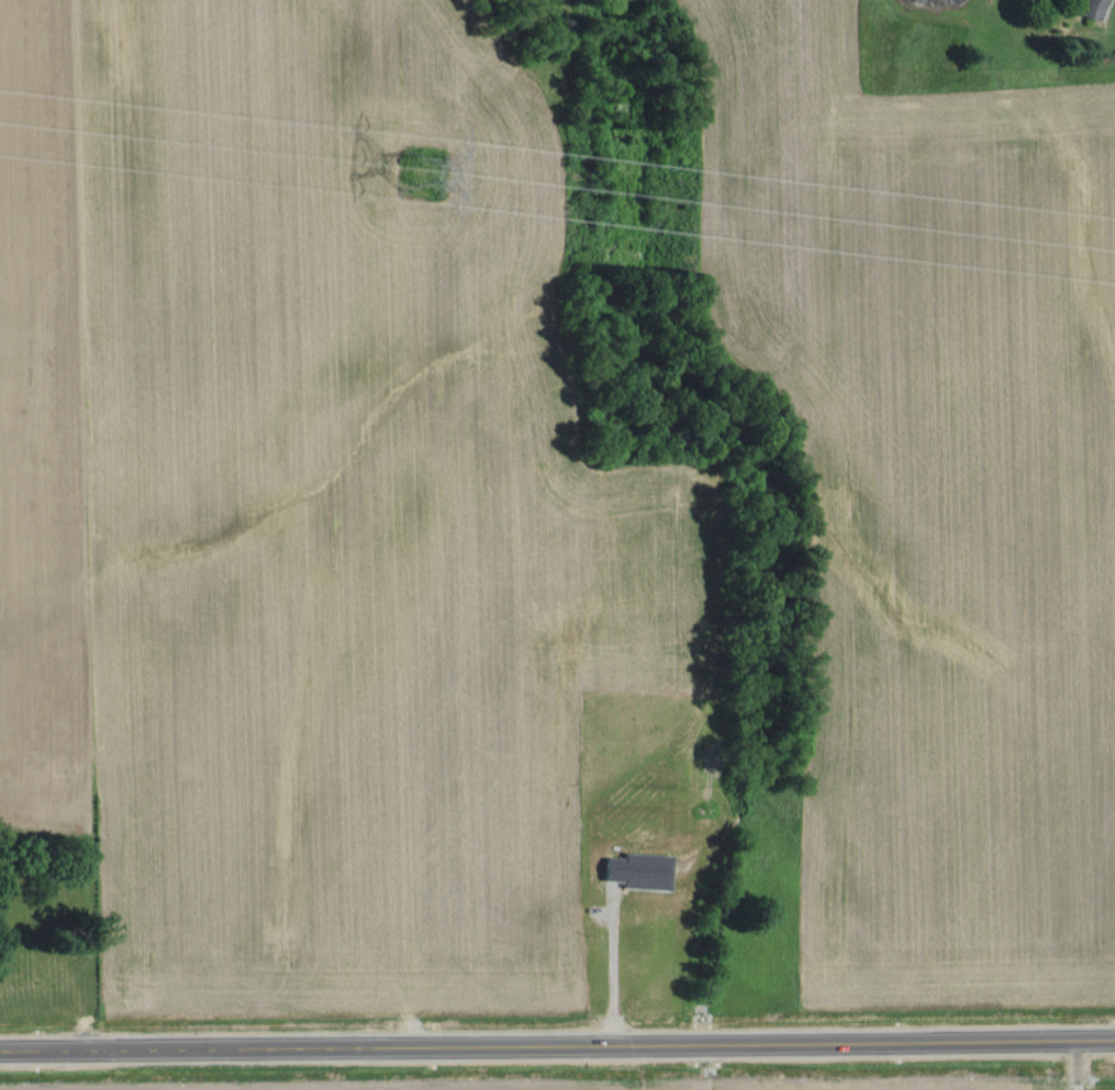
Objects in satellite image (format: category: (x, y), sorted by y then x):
building: (1092, 9)
power tower: (416, 158)
road: (557, 1046)

